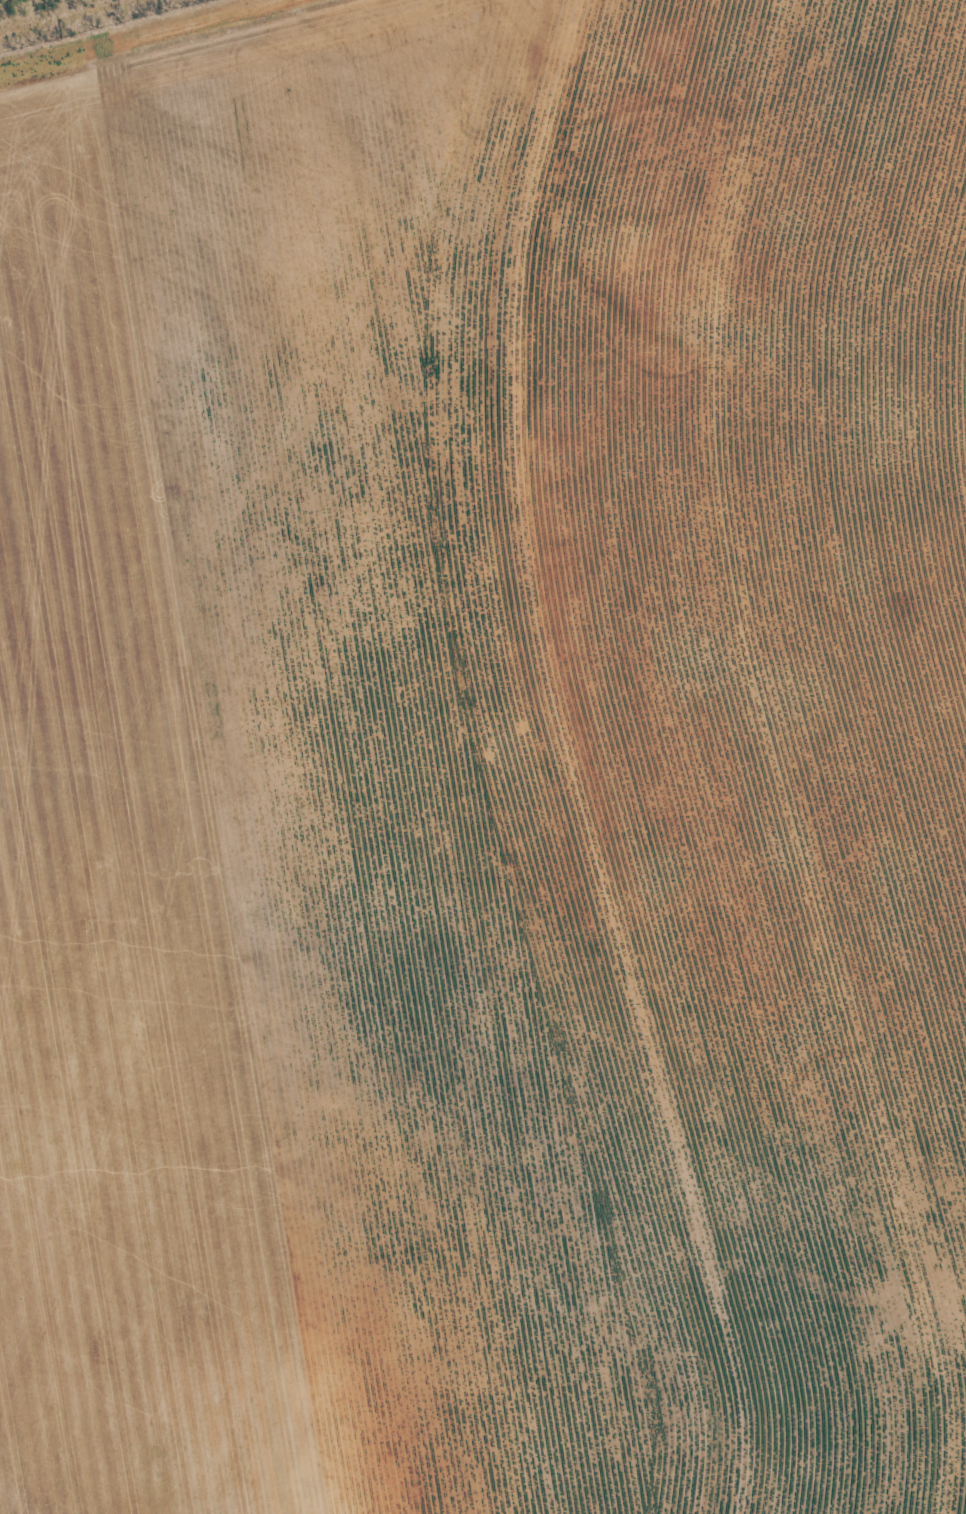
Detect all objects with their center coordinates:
road: (103, 1476)

